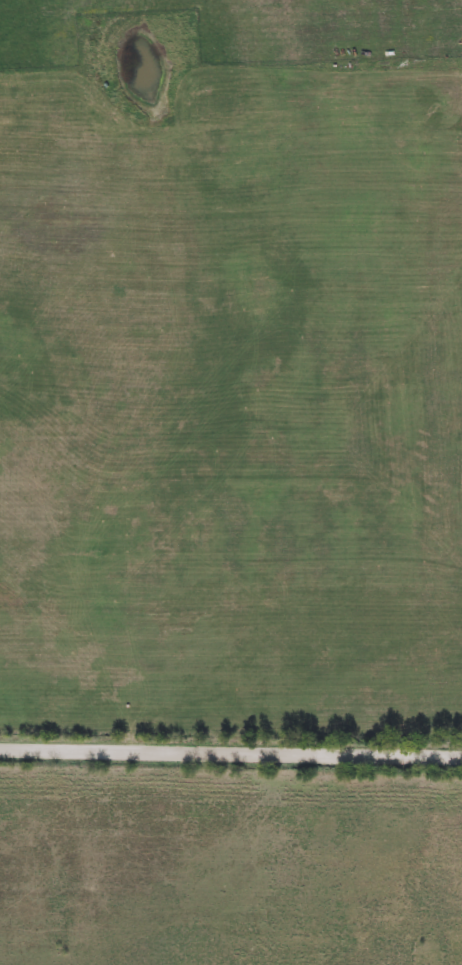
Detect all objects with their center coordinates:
road: (230, 753)

